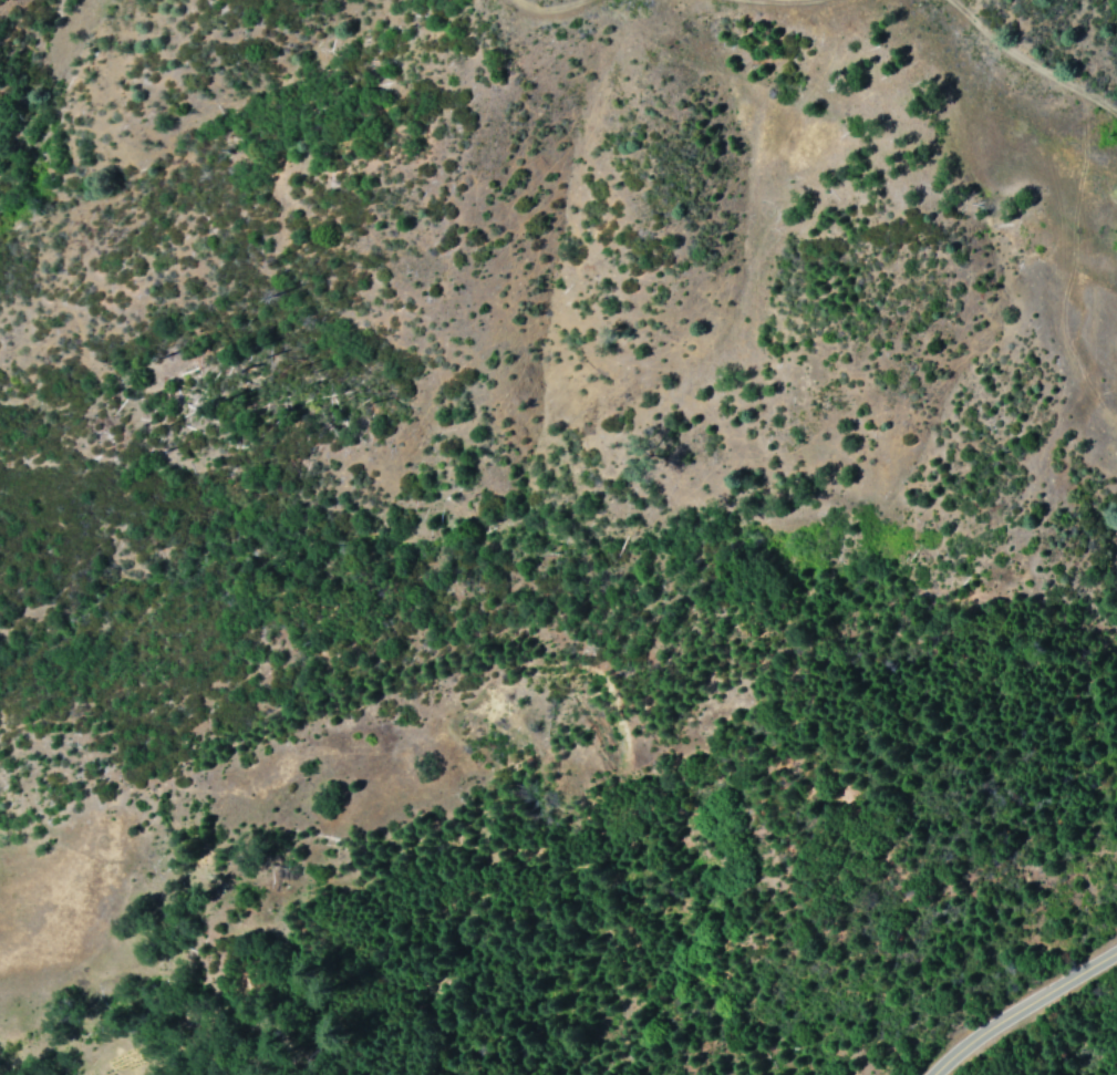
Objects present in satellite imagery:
road: (1018, 1005)

